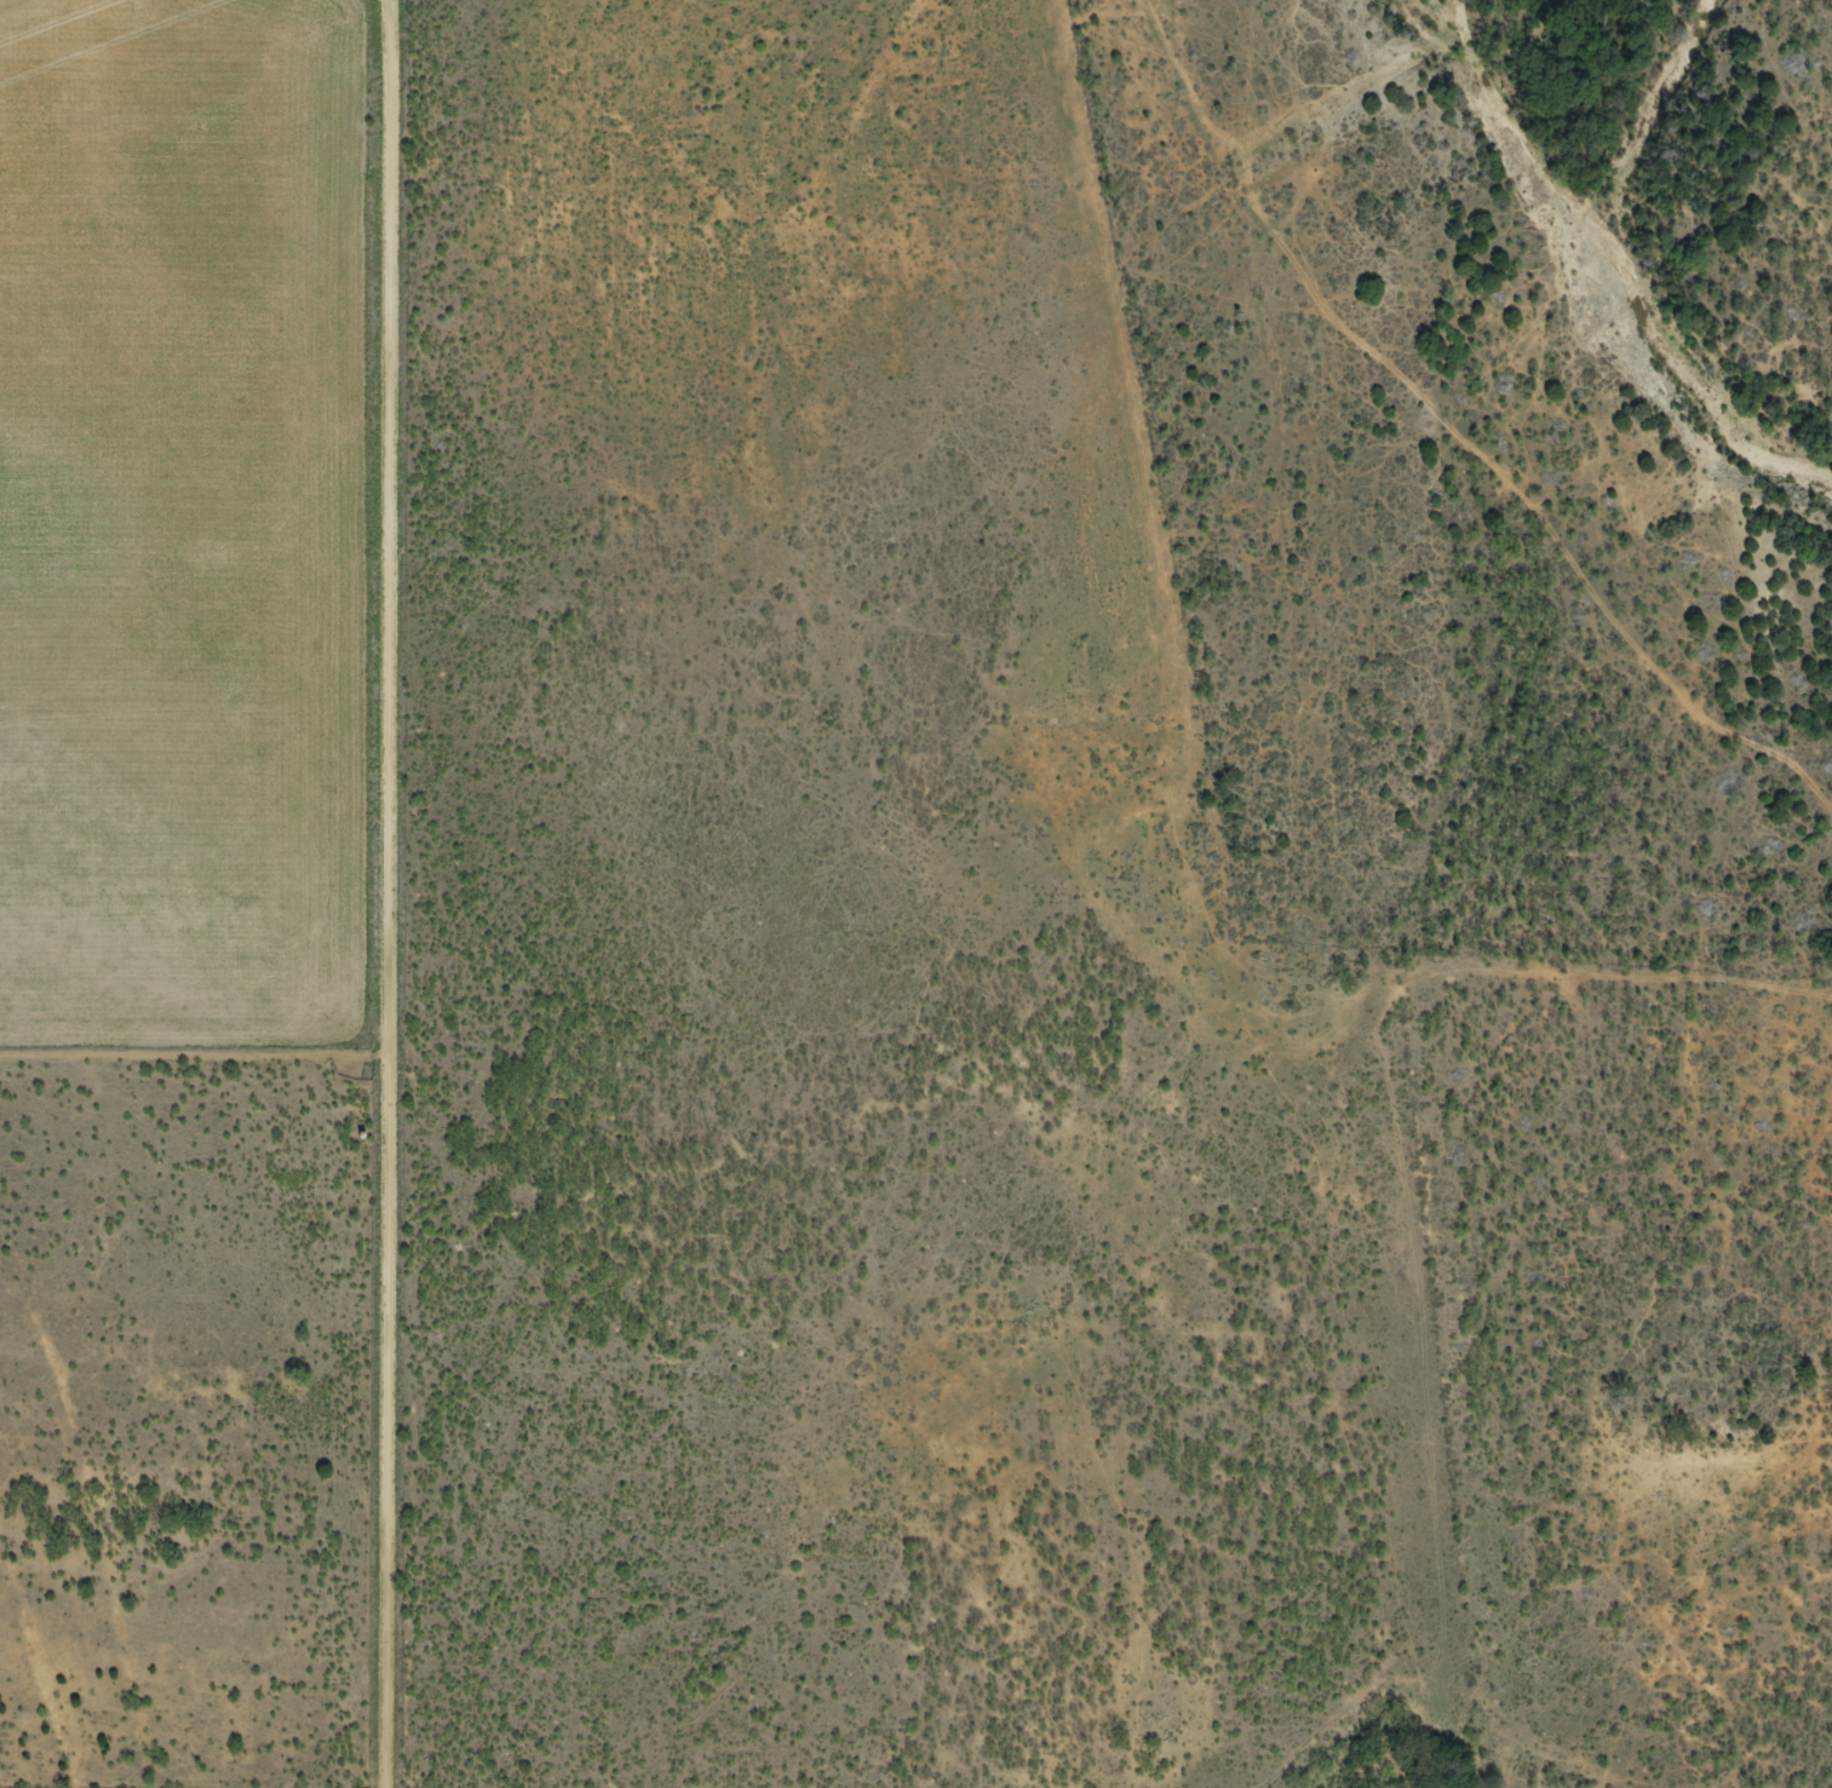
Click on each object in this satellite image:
road: (403, 893)

